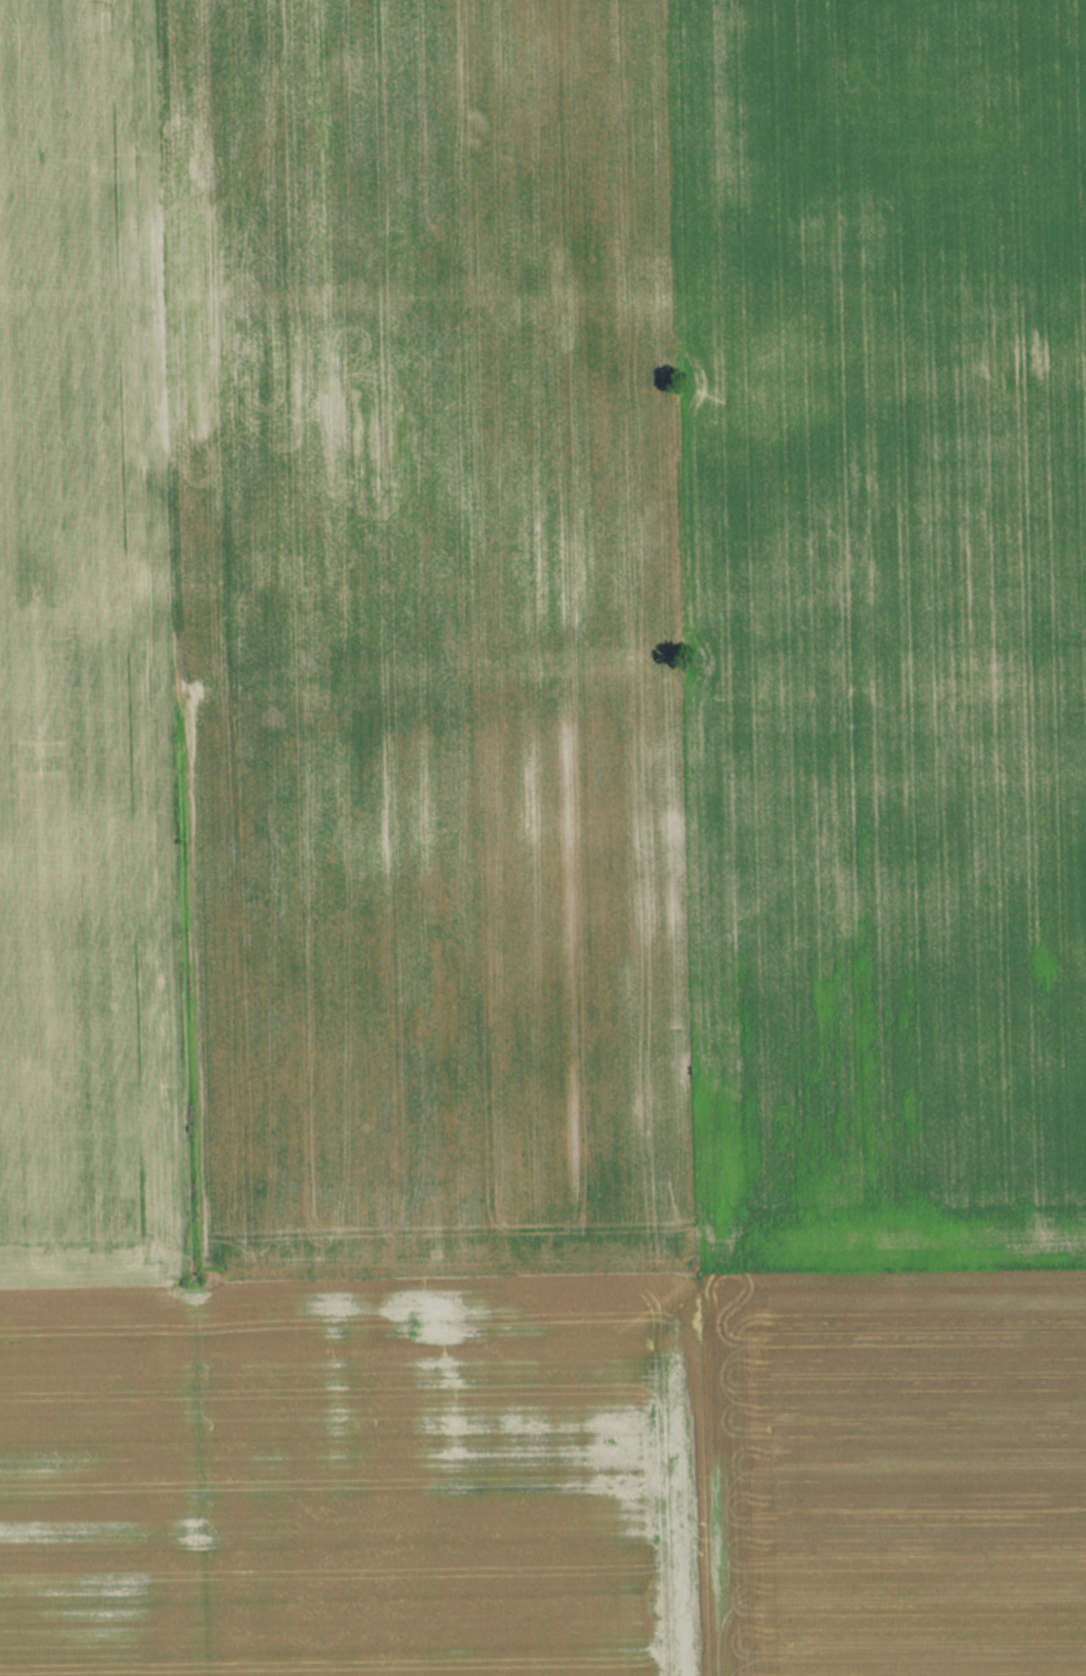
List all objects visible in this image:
crop: (882, 626)
crop: (339, 642)
crop: (892, 1471)
crop: (351, 1476)

